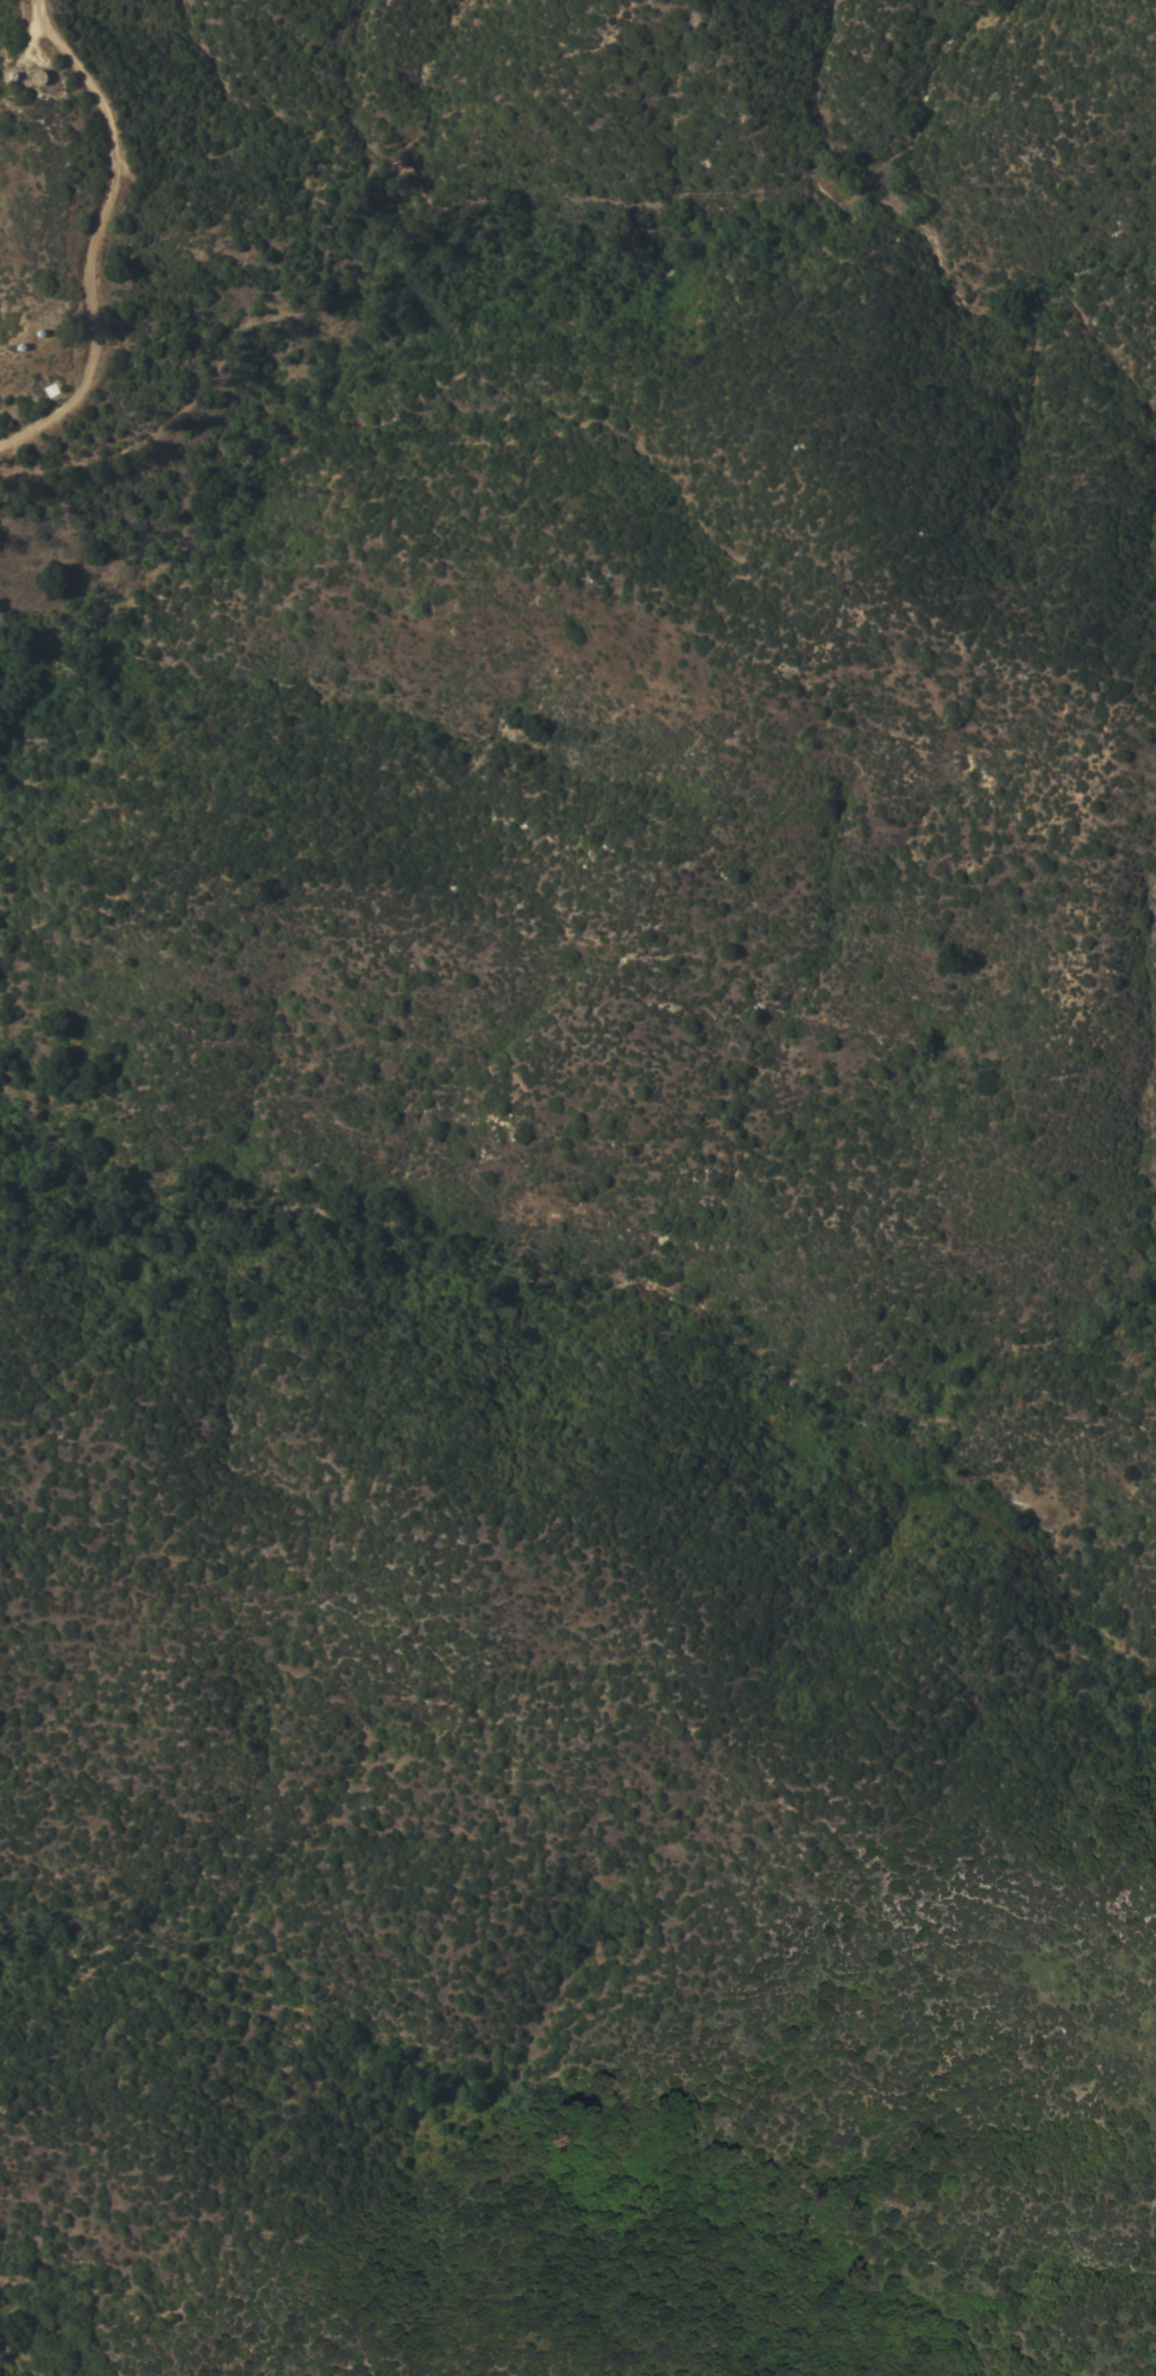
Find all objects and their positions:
building: (43, 77)
road: (107, 237)
building: (0, 401)

